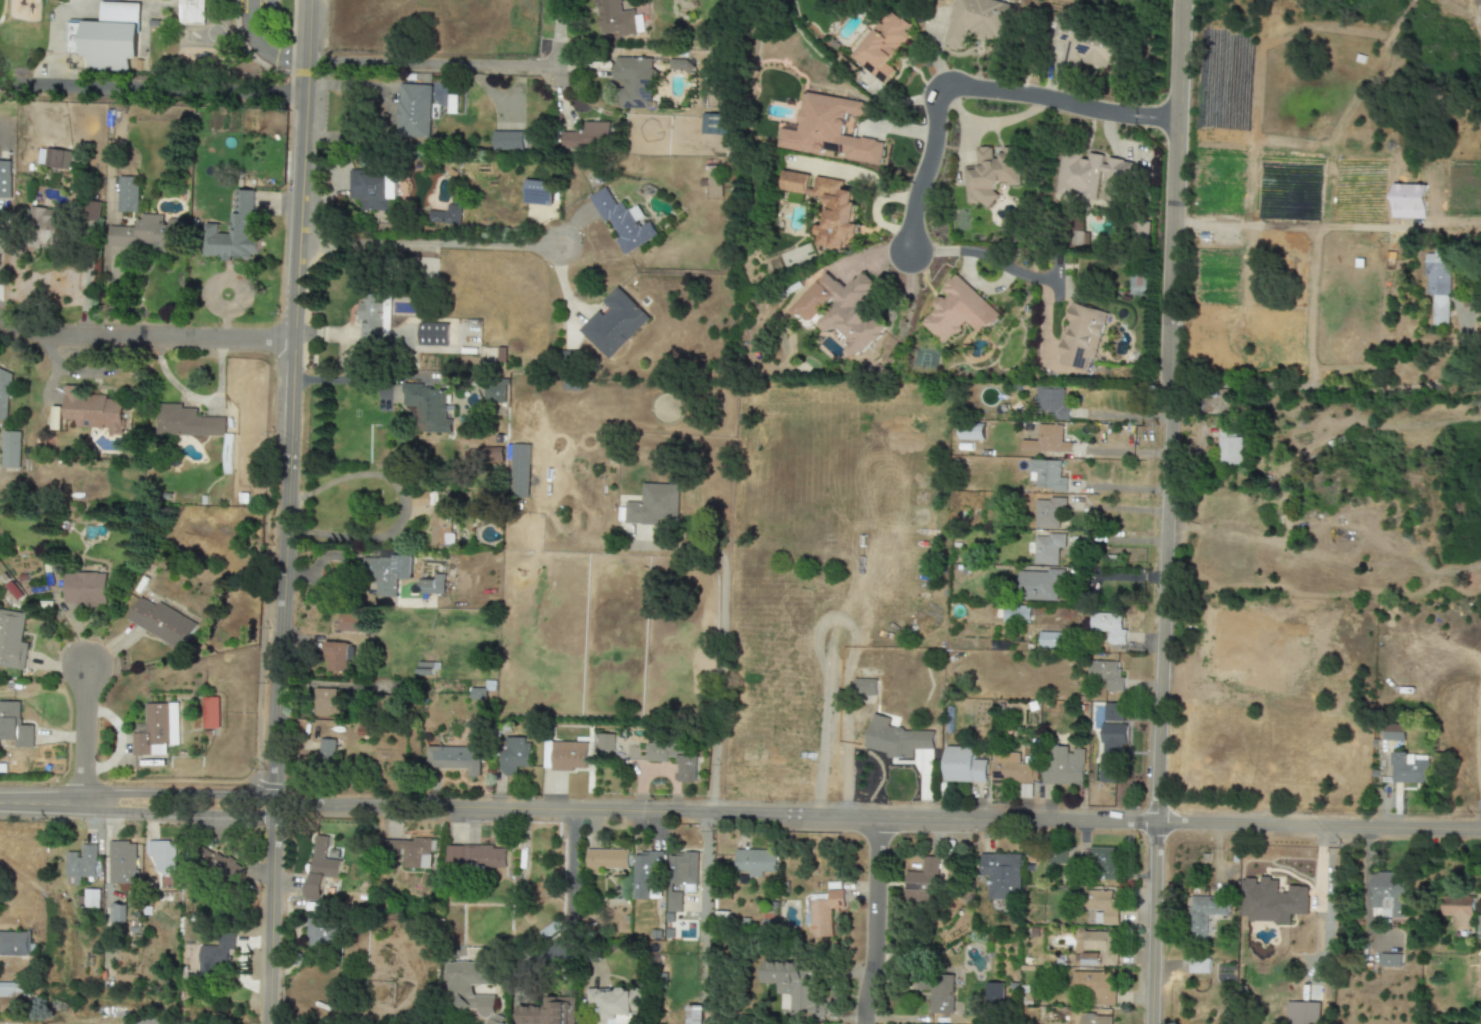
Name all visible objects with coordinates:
building: (1477, 2)
building: (191, 12)
building: (617, 19)
building: (977, 21)
building: (107, 37)
park: (12, 46)
building: (881, 46)
road: (257, 47)
building: (1092, 47)
road: (438, 63)
building: (634, 82)
road: (977, 85)
road: (152, 95)
building: (413, 111)
building: (710, 124)
building: (828, 130)
building: (588, 136)
building: (511, 141)
building: (54, 158)
building: (990, 174)
building: (1089, 174)
building: (5, 179)
building: (714, 187)
building: (371, 189)
building: (538, 192)
building: (128, 194)
building: (827, 207)
building: (93, 211)
building: (445, 215)
building: (623, 221)
building: (234, 233)
building: (149, 234)
road: (436, 240)
road: (983, 256)
building: (1439, 287)
building: (841, 311)
building: (958, 311)
building: (614, 323)
building: (433, 334)
building: (1080, 336)
road: (145, 339)
road: (89, 373)
road: (342, 380)
road: (1318, 386)
building: (495, 389)
building: (4, 392)
road: (198, 399)
building: (1050, 404)
building: (429, 408)
building: (92, 410)
building: (55, 418)
building: (186, 422)
building: (971, 434)
building: (1048, 440)
building: (1229, 446)
building: (10, 449)
building: (227, 454)
building: (489, 454)
building: (520, 472)
building: (1048, 475)
building: (420, 500)
road: (401, 505)
building: (654, 505)
road: (1118, 508)
road: (284, 511)
building: (1048, 512)
road: (1165, 512)
building: (441, 528)
road: (1116, 539)
building: (1045, 548)
building: (382, 576)
road: (1117, 576)
building: (433, 585)
building: (1039, 585)
building: (84, 589)
building: (1016, 615)
building: (349, 622)
building: (162, 623)
building: (1109, 626)
building: (12, 640)
building: (1051, 640)
building: (337, 657)
building: (427, 669)
building: (1106, 675)
building: (865, 690)
building: (478, 694)
road: (716, 703)
building: (327, 704)
building: (210, 713)
building: (14, 726)
building: (157, 730)
building: (1394, 733)
road: (83, 735)
building: (897, 738)
building: (1112, 740)
building: (606, 742)
building: (327, 750)
building: (513, 755)
building: (568, 756)
building: (454, 758)
building: (963, 766)
building: (1064, 767)
building: (1012, 768)
building: (1410, 768)
building: (688, 771)
road: (740, 812)
building: (413, 852)
building: (162, 856)
building: (476, 856)
building: (1056, 857)
building: (607, 859)
building: (122, 862)
building: (755, 862)
building: (80, 865)
building: (225, 866)
building: (1104, 867)
building: (320, 868)
building: (683, 870)
building: (646, 874)
building: (1002, 875)
road: (573, 877)
building: (921, 881)
building: (1388, 894)
building: (91, 898)
building: (1271, 901)
building: (674, 902)
building: (1101, 908)
building: (1459, 910)
building: (824, 911)
building: (115, 913)
building: (1205, 914)
road: (872, 922)
building: (1478, 926)
building: (320, 934)
building: (13, 944)
building: (1100, 946)
building: (216, 956)
building: (1390, 960)
building: (1199, 966)
building: (796, 986)
building: (1093, 986)
building: (14, 990)
building: (460, 990)
building: (938, 991)
building: (994, 992)
building: (617, 1004)
building: (548, 1012)
building: (1304, 1013)
building: (694, 1014)
building: (1095, 1019)

